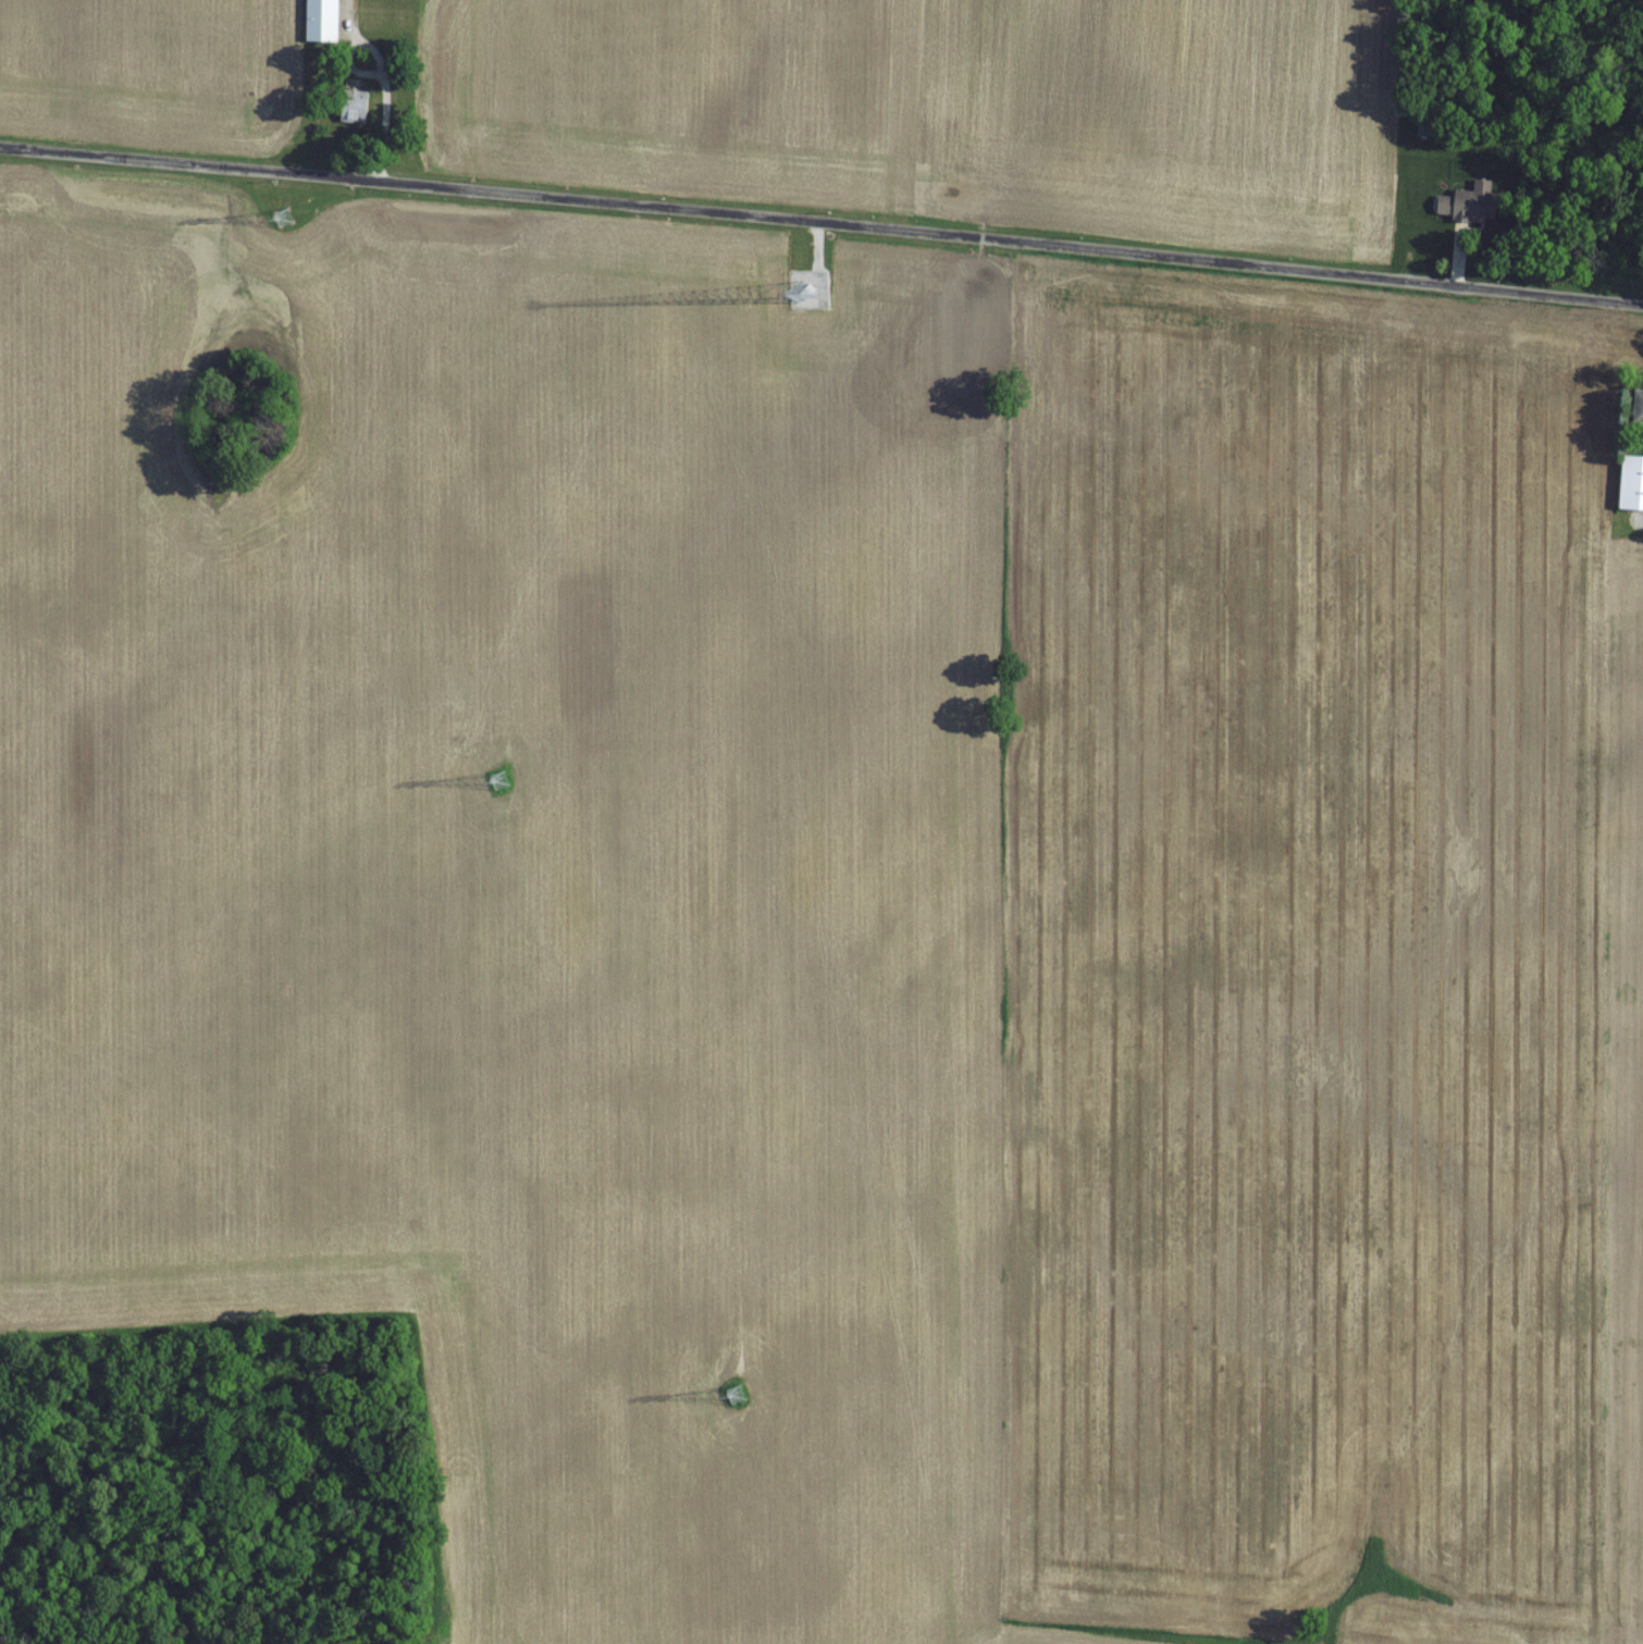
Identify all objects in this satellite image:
building: (318, 20)
building: (349, 104)
building: (1466, 203)
road: (821, 218)
building: (1636, 405)
building: (1629, 481)
road: (83, 1523)

